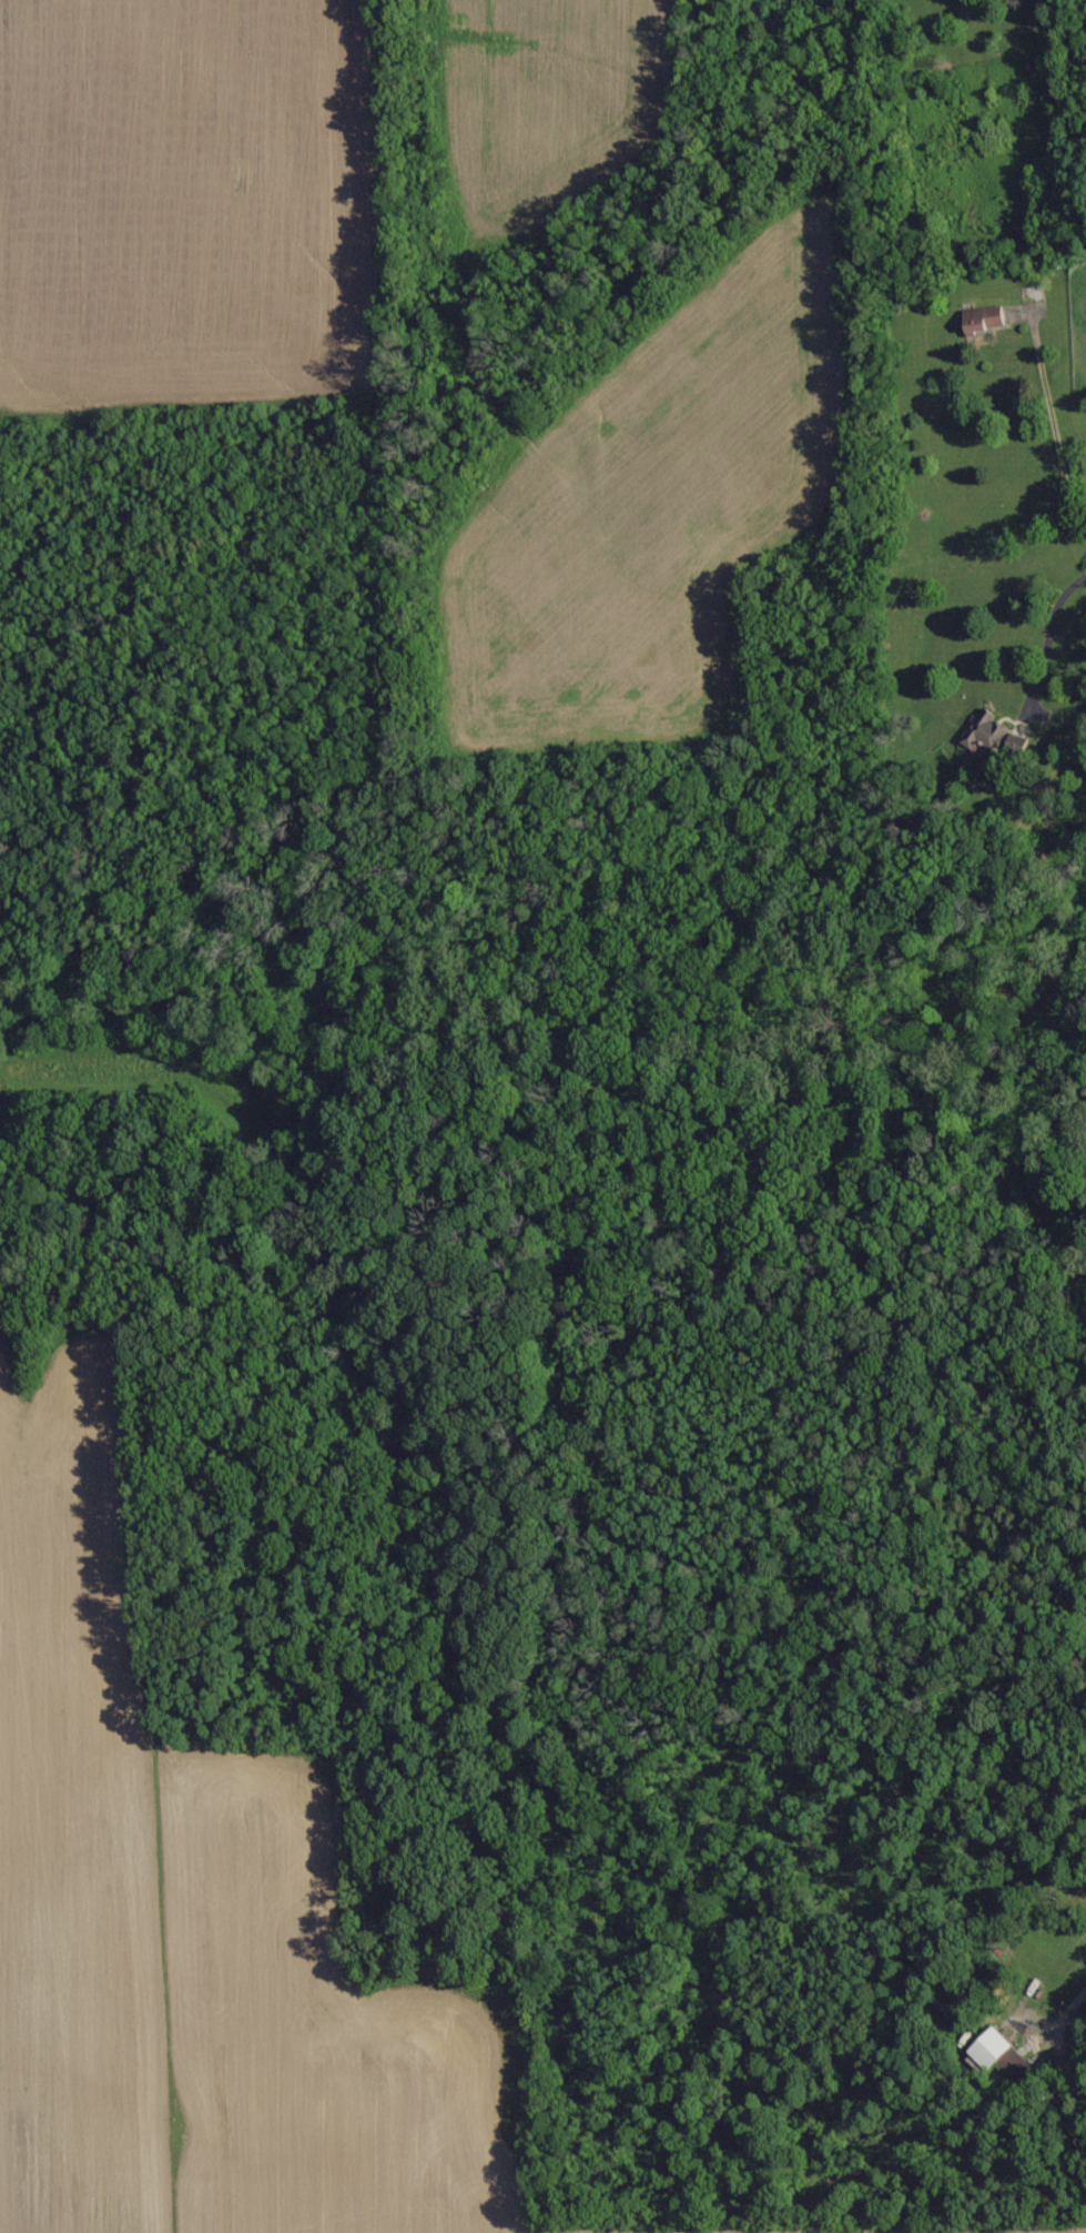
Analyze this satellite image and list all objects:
building: (988, 319)
road: (1052, 424)
road: (1048, 631)
building: (997, 734)
road: (1082, 2013)
building: (994, 2049)

